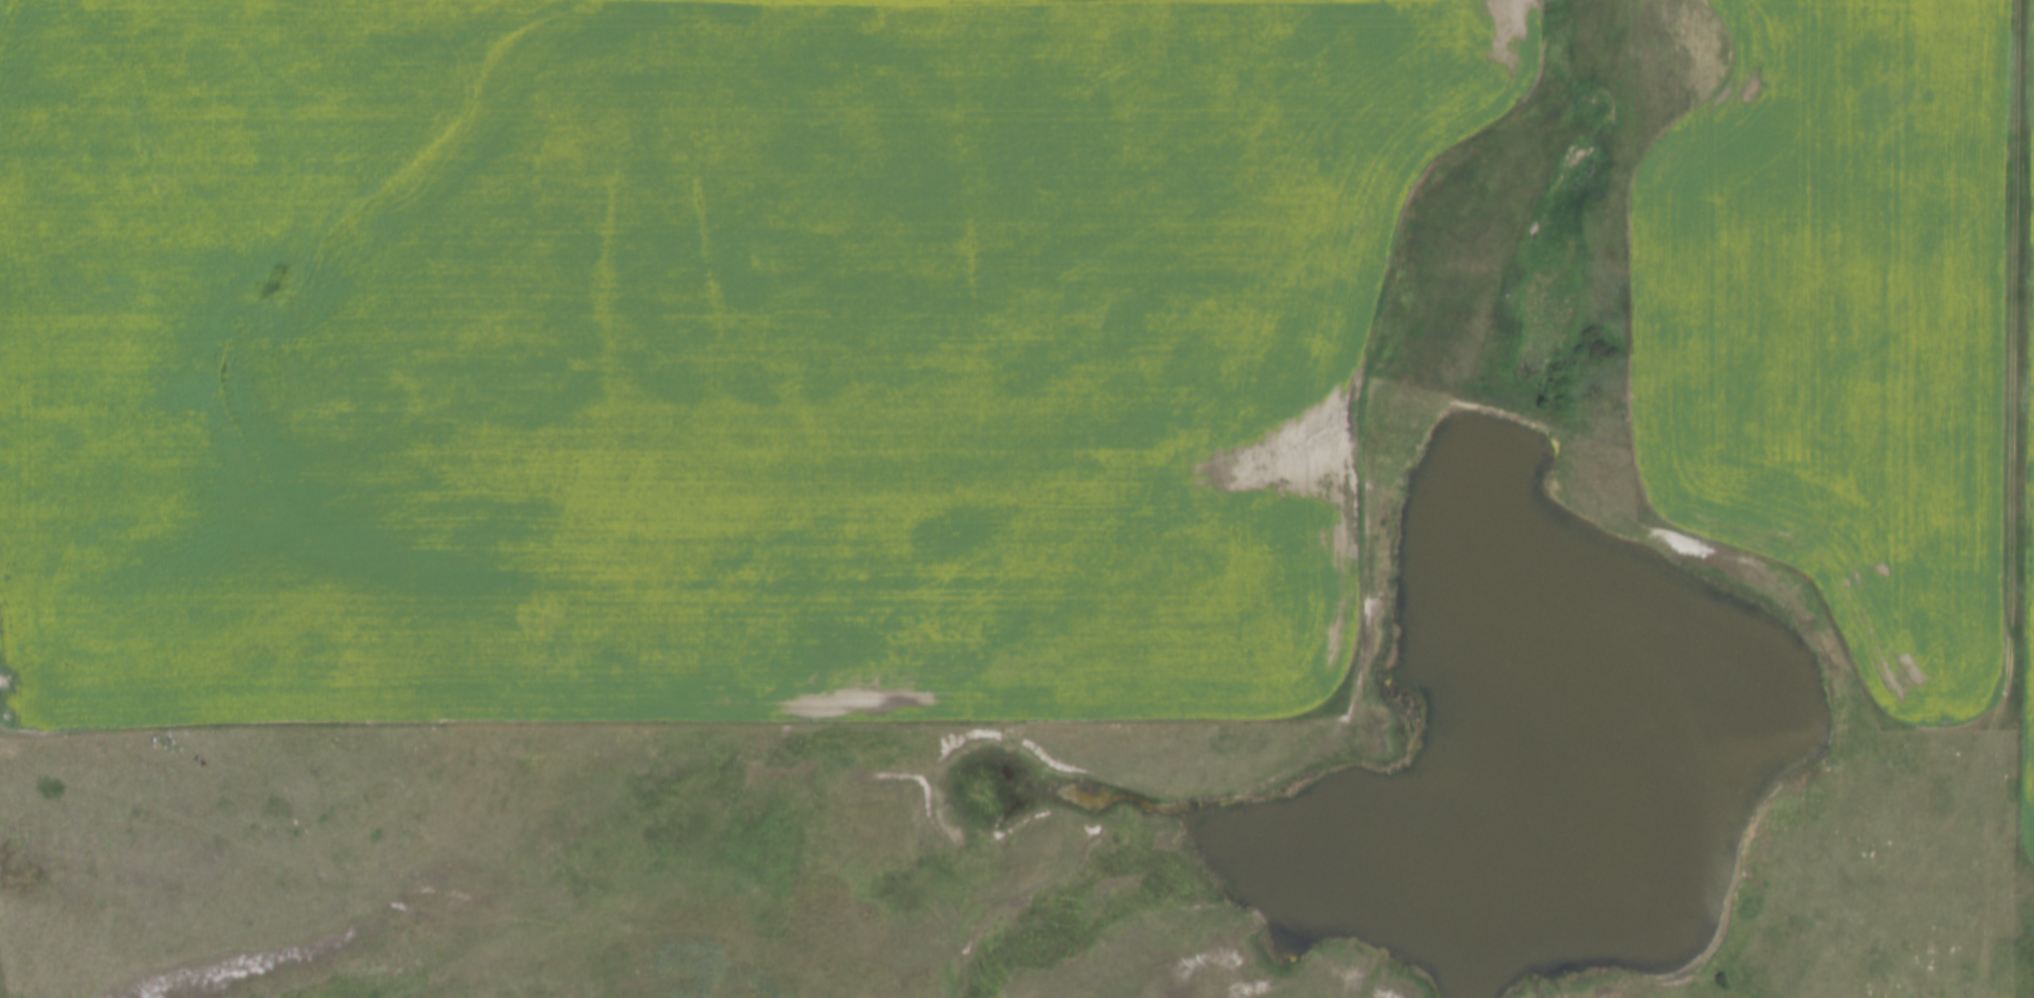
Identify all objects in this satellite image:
road: (2005, 499)

